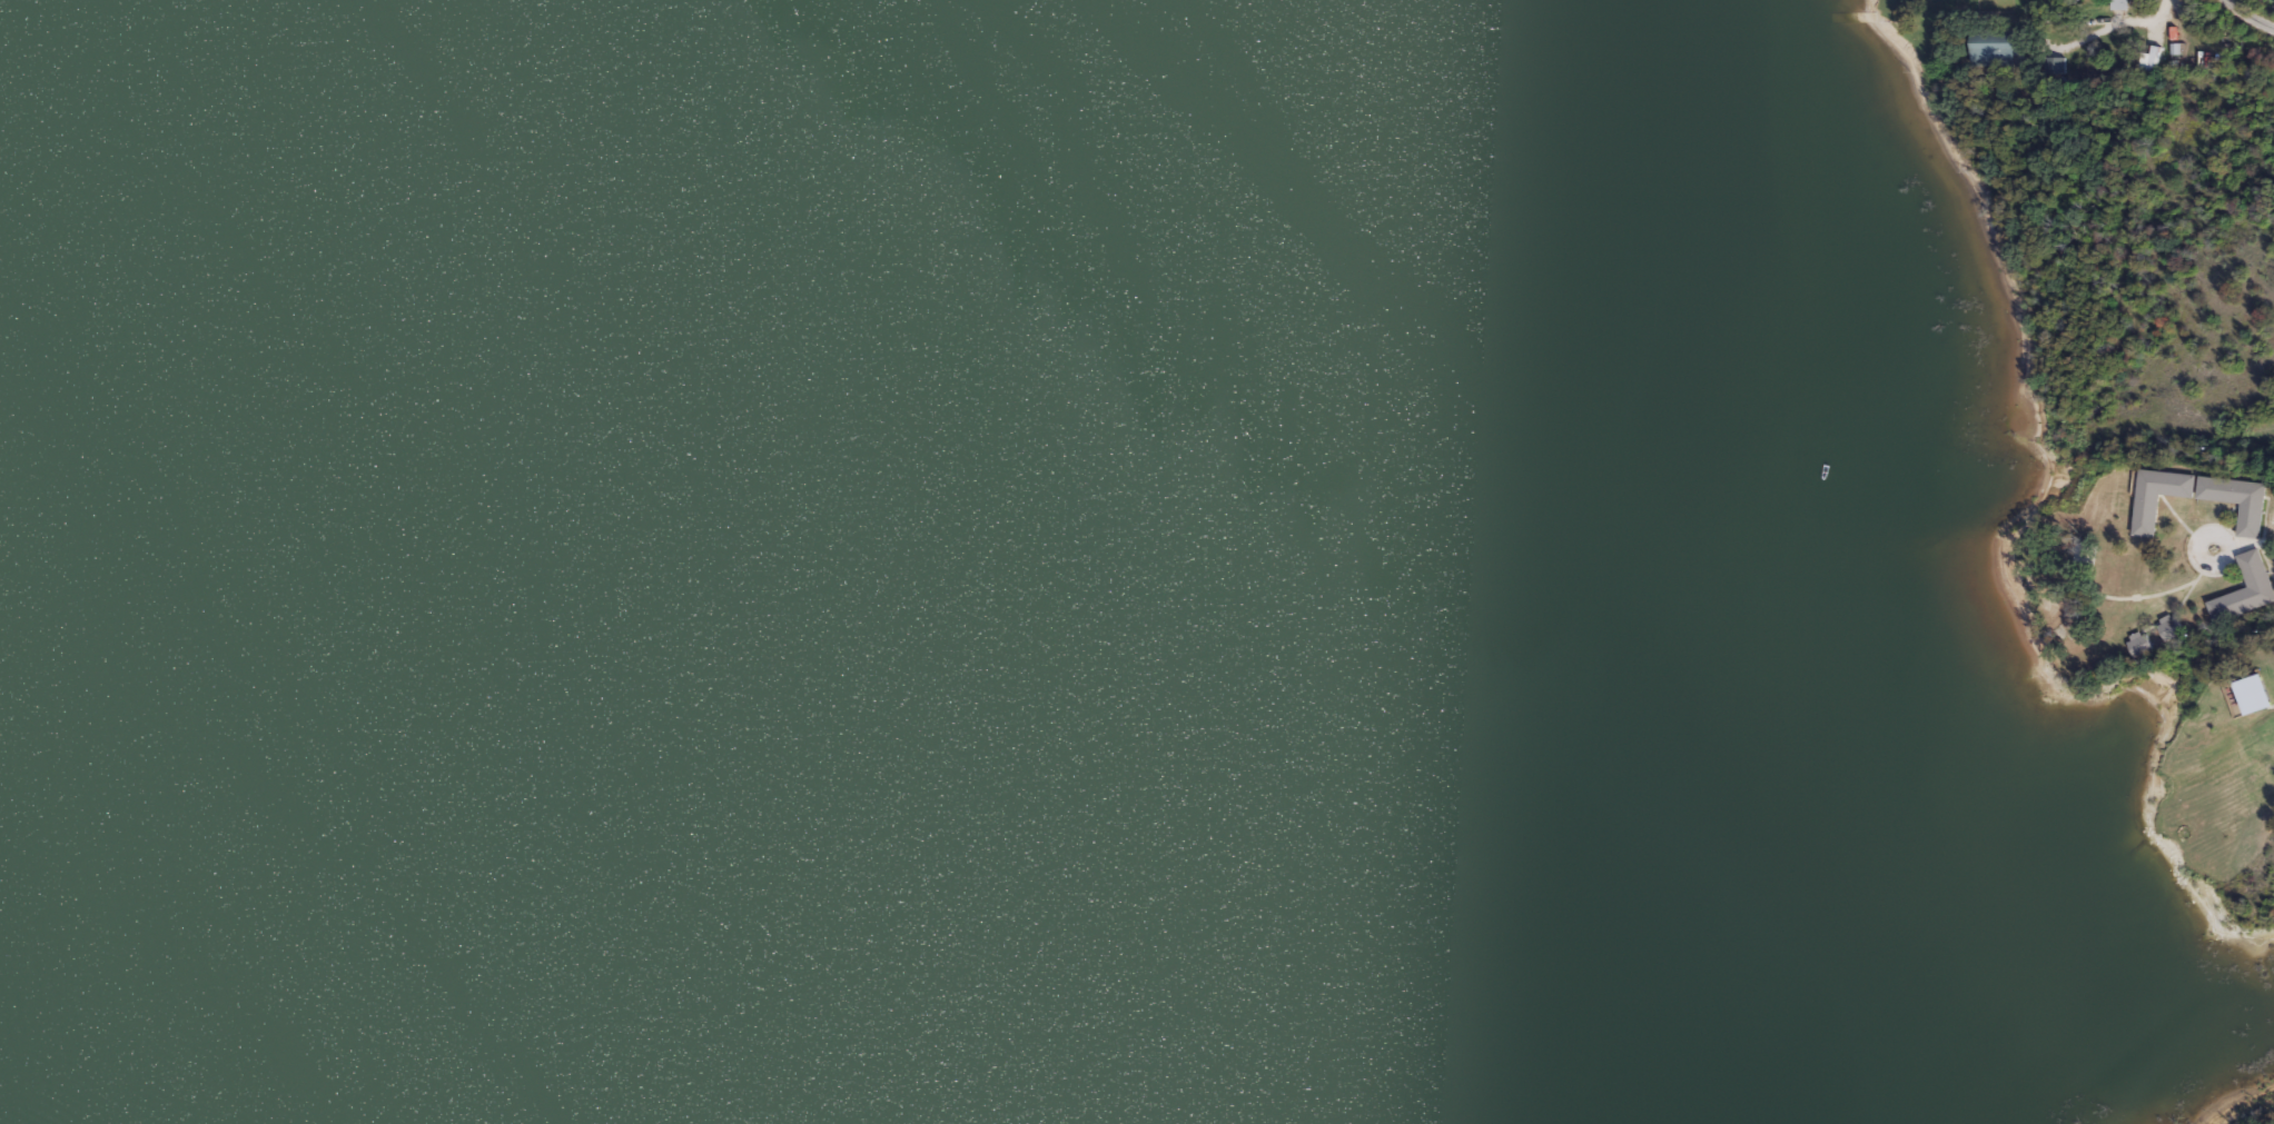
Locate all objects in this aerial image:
building: (2118, 4)
road: (2248, 14)
road: (2113, 24)
building: (1997, 47)
building: (2152, 58)
building: (2158, 497)
building: (2238, 500)
road: (2260, 540)
building: (2245, 590)
building: (2169, 626)
building: (2139, 645)
building: (2255, 693)

